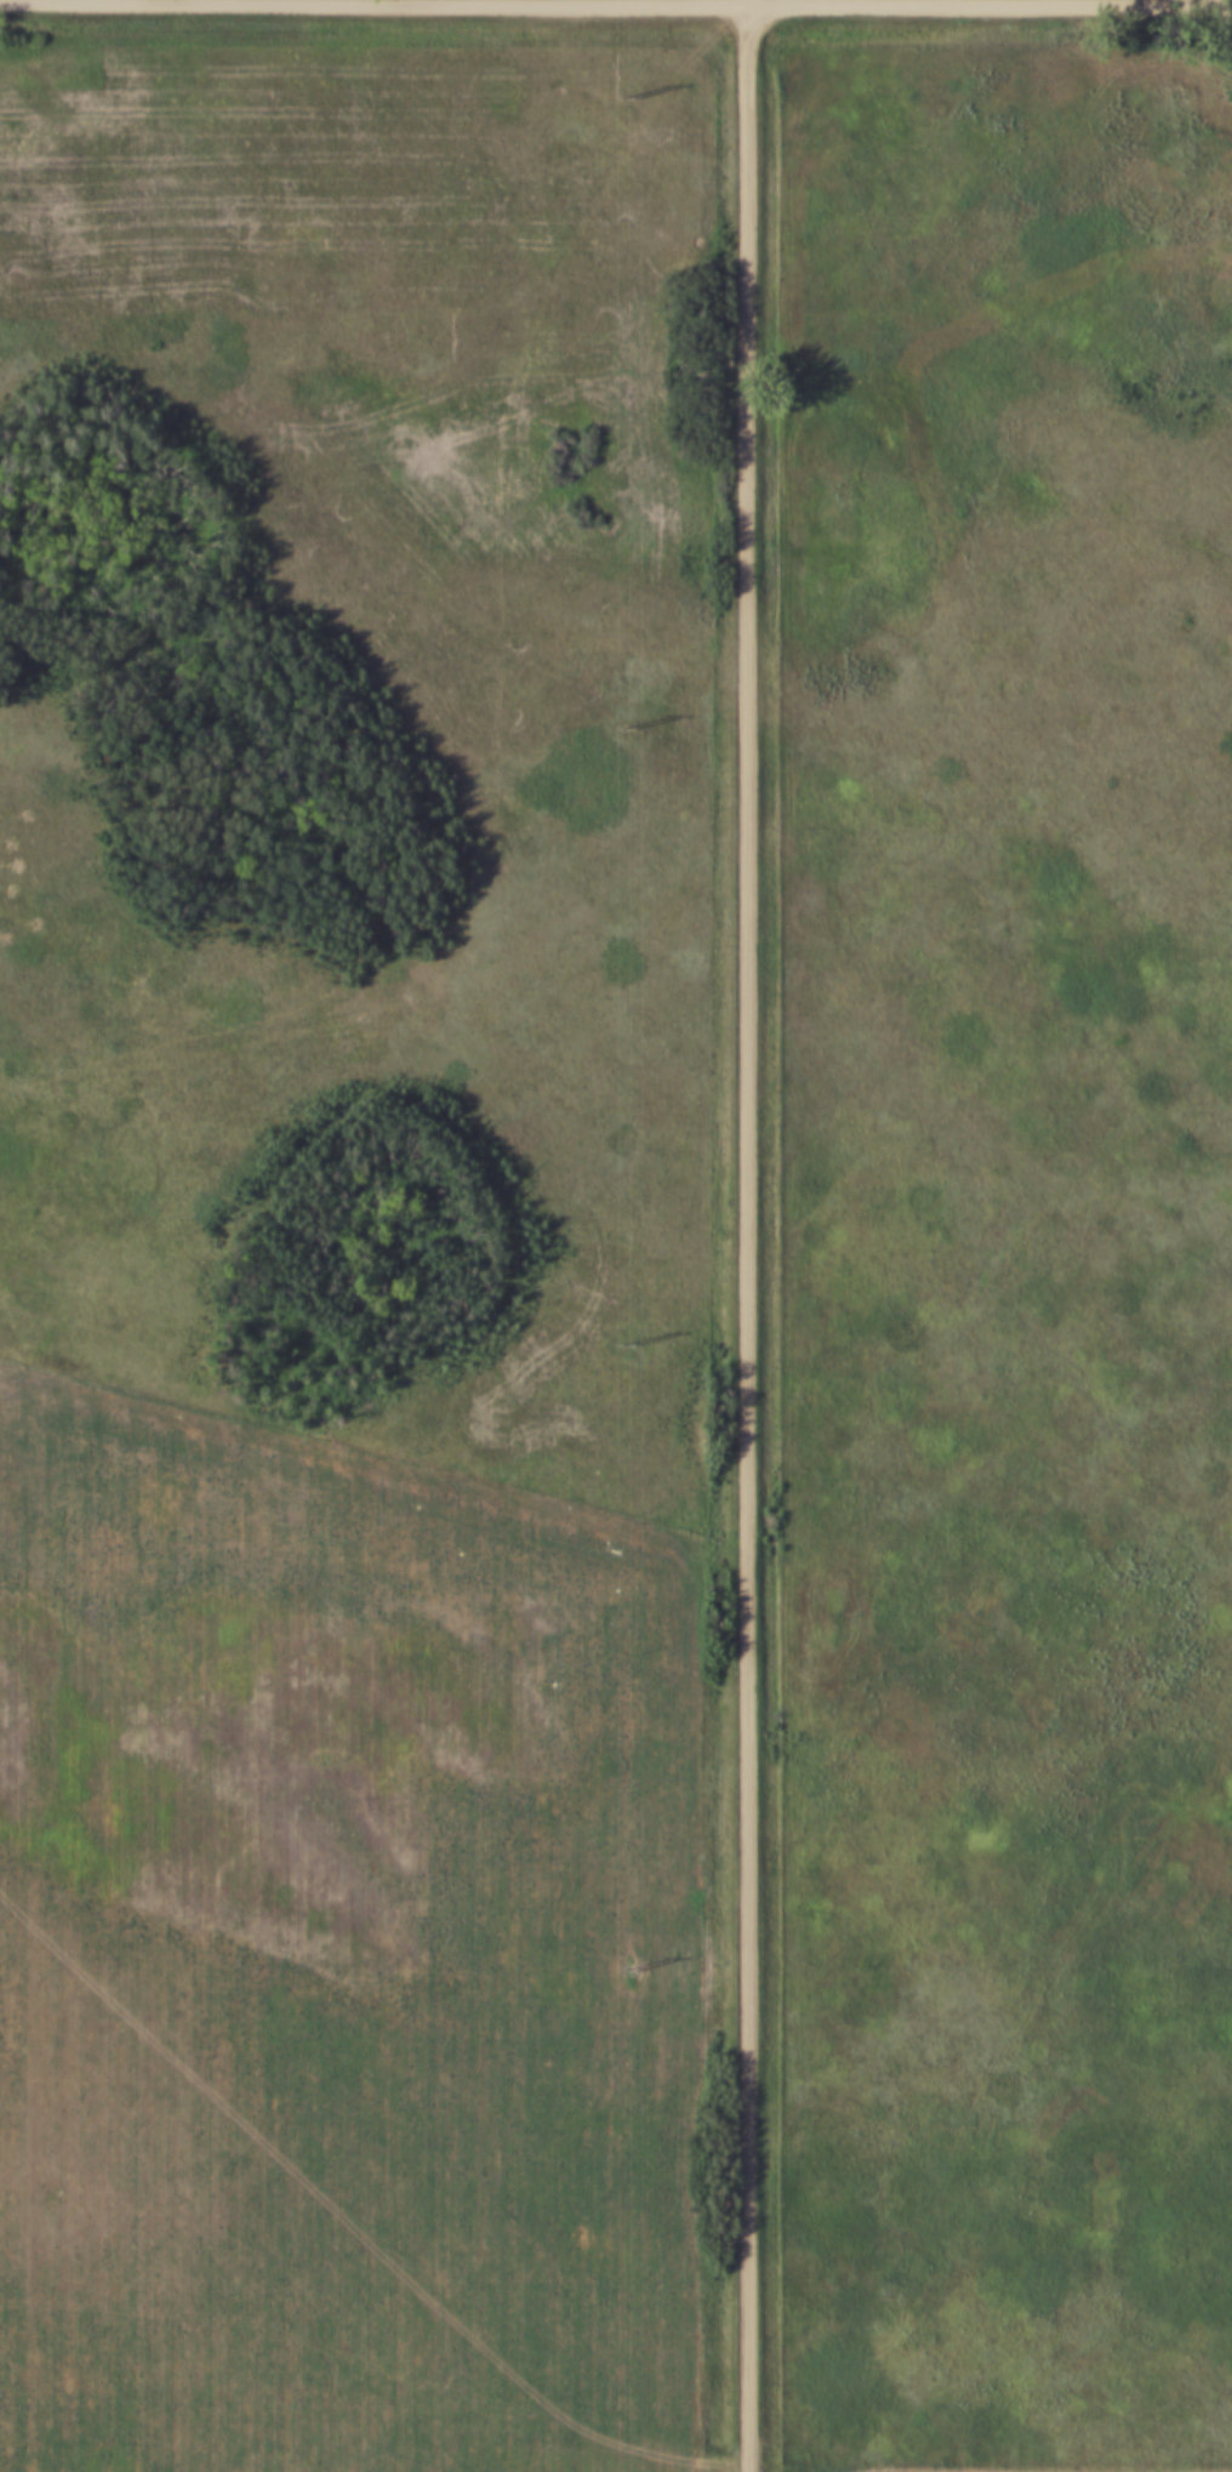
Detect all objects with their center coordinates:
power tower: (624, 98)
power tower: (628, 727)
road: (747, 1235)
power tower: (634, 1348)
power tower: (633, 1970)

